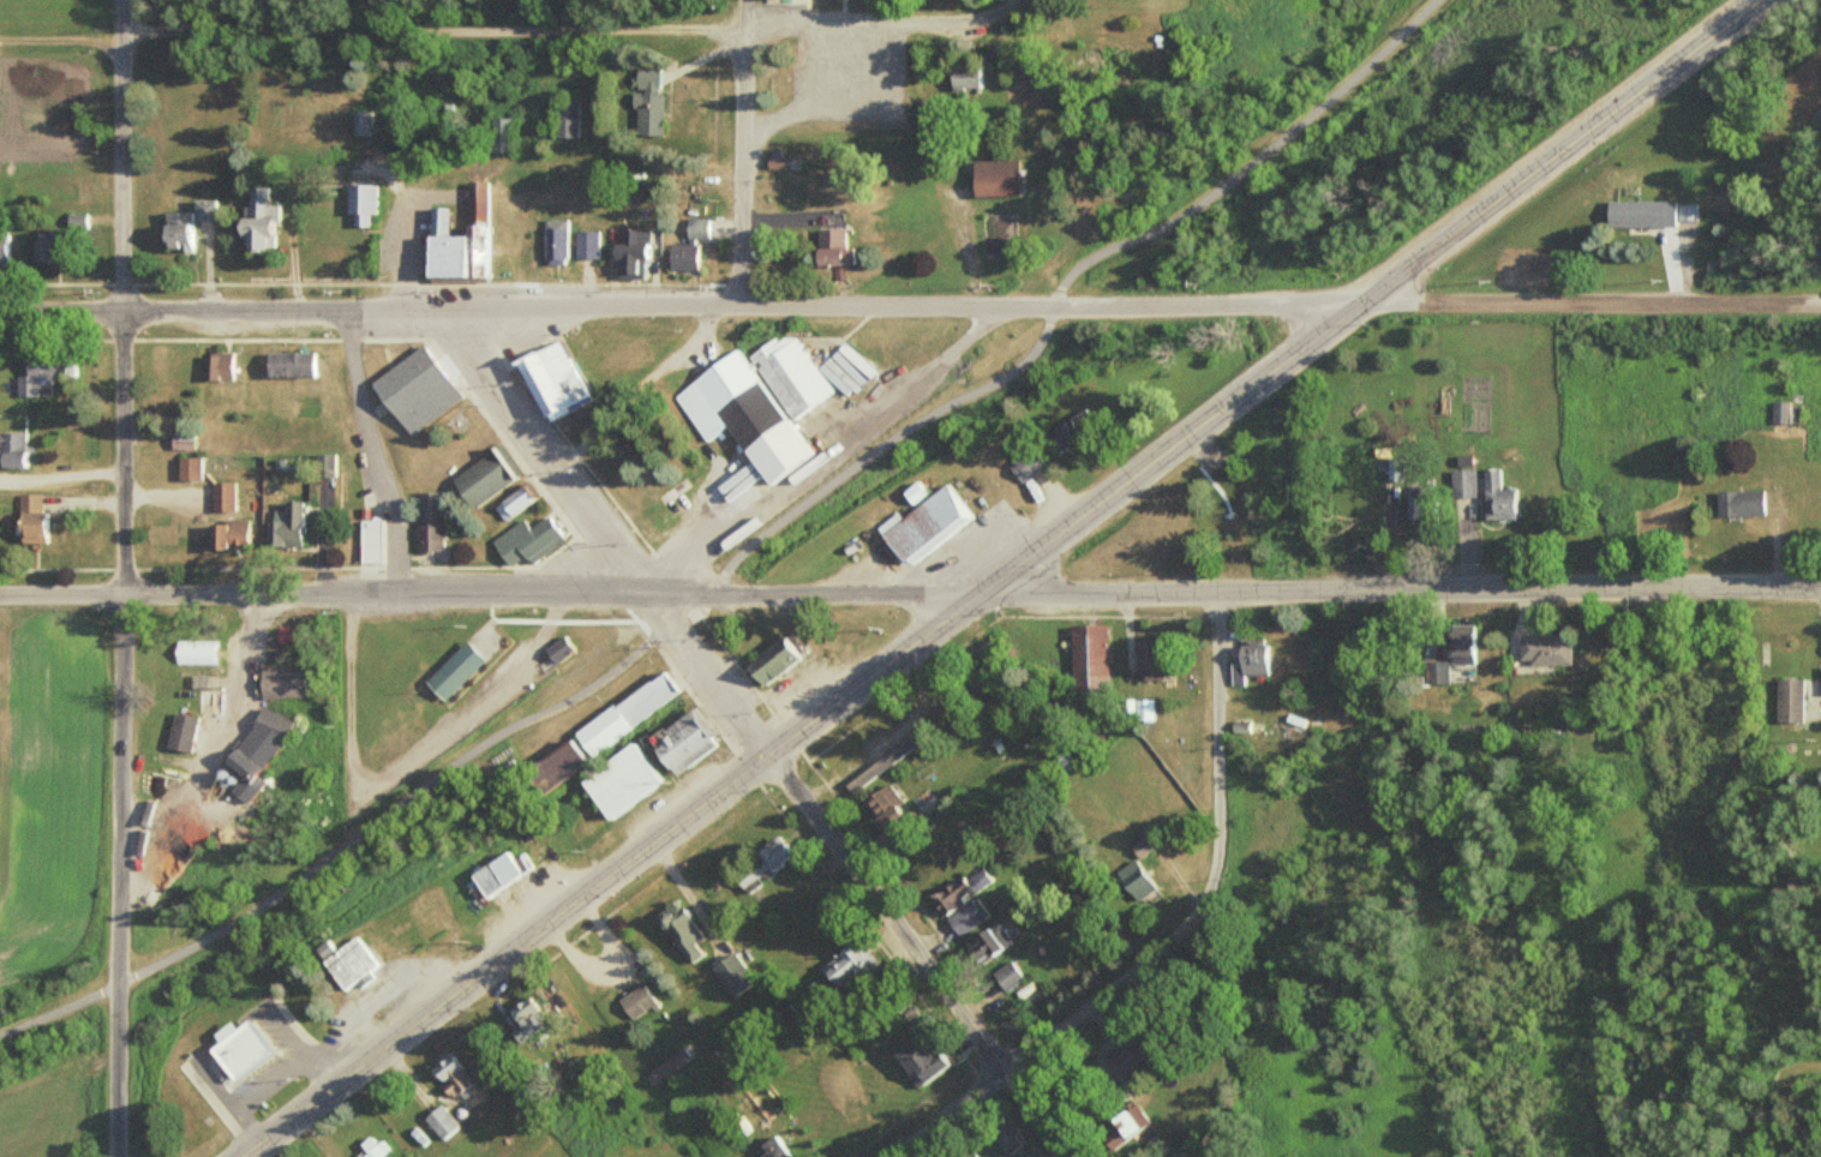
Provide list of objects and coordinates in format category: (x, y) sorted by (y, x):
road: (1011, 1)
road: (742, 13)
road: (877, 22)
road: (432, 26)
building: (964, 76)
building: (647, 101)
building: (567, 119)
building: (361, 122)
building: (499, 133)
road: (739, 166)
building: (994, 176)
building: (360, 202)
building: (1653, 211)
building: (256, 220)
building: (78, 221)
building: (696, 227)
building: (555, 241)
building: (456, 242)
building: (586, 244)
building: (827, 244)
building: (44, 246)
building: (5, 248)
building: (629, 254)
building: (681, 256)
road: (120, 295)
road: (1366, 296)
road: (1591, 302)
road: (901, 306)
road: (221, 310)
building: (289, 364)
building: (215, 365)
building: (44, 370)
building: (793, 376)
building: (547, 378)
road: (643, 388)
building: (414, 390)
building: (1786, 412)
building: (738, 414)
building: (1070, 430)
building: (180, 439)
building: (11, 448)
road: (381, 450)
road: (543, 452)
building: (1464, 460)
building: (325, 464)
building: (1024, 464)
building: (187, 468)
building: (484, 476)
building: (1464, 482)
building: (221, 496)
building: (1499, 497)
building: (515, 502)
building: (1742, 503)
building: (1422, 508)
building: (29, 518)
building: (429, 521)
building: (922, 522)
building: (286, 526)
building: (226, 534)
building: (369, 540)
building: (522, 540)
road: (743, 551)
road: (61, 591)
road: (1398, 591)
road: (551, 593)
building: (556, 649)
building: (1545, 649)
building: (193, 652)
building: (1452, 653)
building: (1150, 658)
building: (771, 660)
building: (1248, 660)
building: (1089, 661)
building: (451, 670)
building: (280, 682)
building: (978, 684)
building: (1790, 700)
building: (1140, 709)
building: (627, 713)
building: (268, 726)
building: (179, 732)
road: (222, 741)
building: (683, 741)
building: (242, 759)
road: (403, 763)
building: (553, 765)
building: (618, 781)
building: (880, 799)
building: (928, 802)
building: (1144, 841)
building: (762, 863)
road: (119, 873)
road: (610, 873)
road: (862, 873)
building: (492, 874)
building: (1133, 881)
building: (962, 891)
building: (969, 917)
building: (679, 930)
road: (1170, 937)
building: (989, 940)
building: (349, 964)
building: (849, 965)
building: (733, 973)
building: (1008, 976)
building: (636, 1002)
building: (526, 1023)
building: (236, 1051)
building: (1126, 1057)
building: (921, 1059)
building: (449, 1075)
building: (441, 1121)
building: (1122, 1126)
building: (1008, 1137)
building: (773, 1149)
building: (367, 1150)

